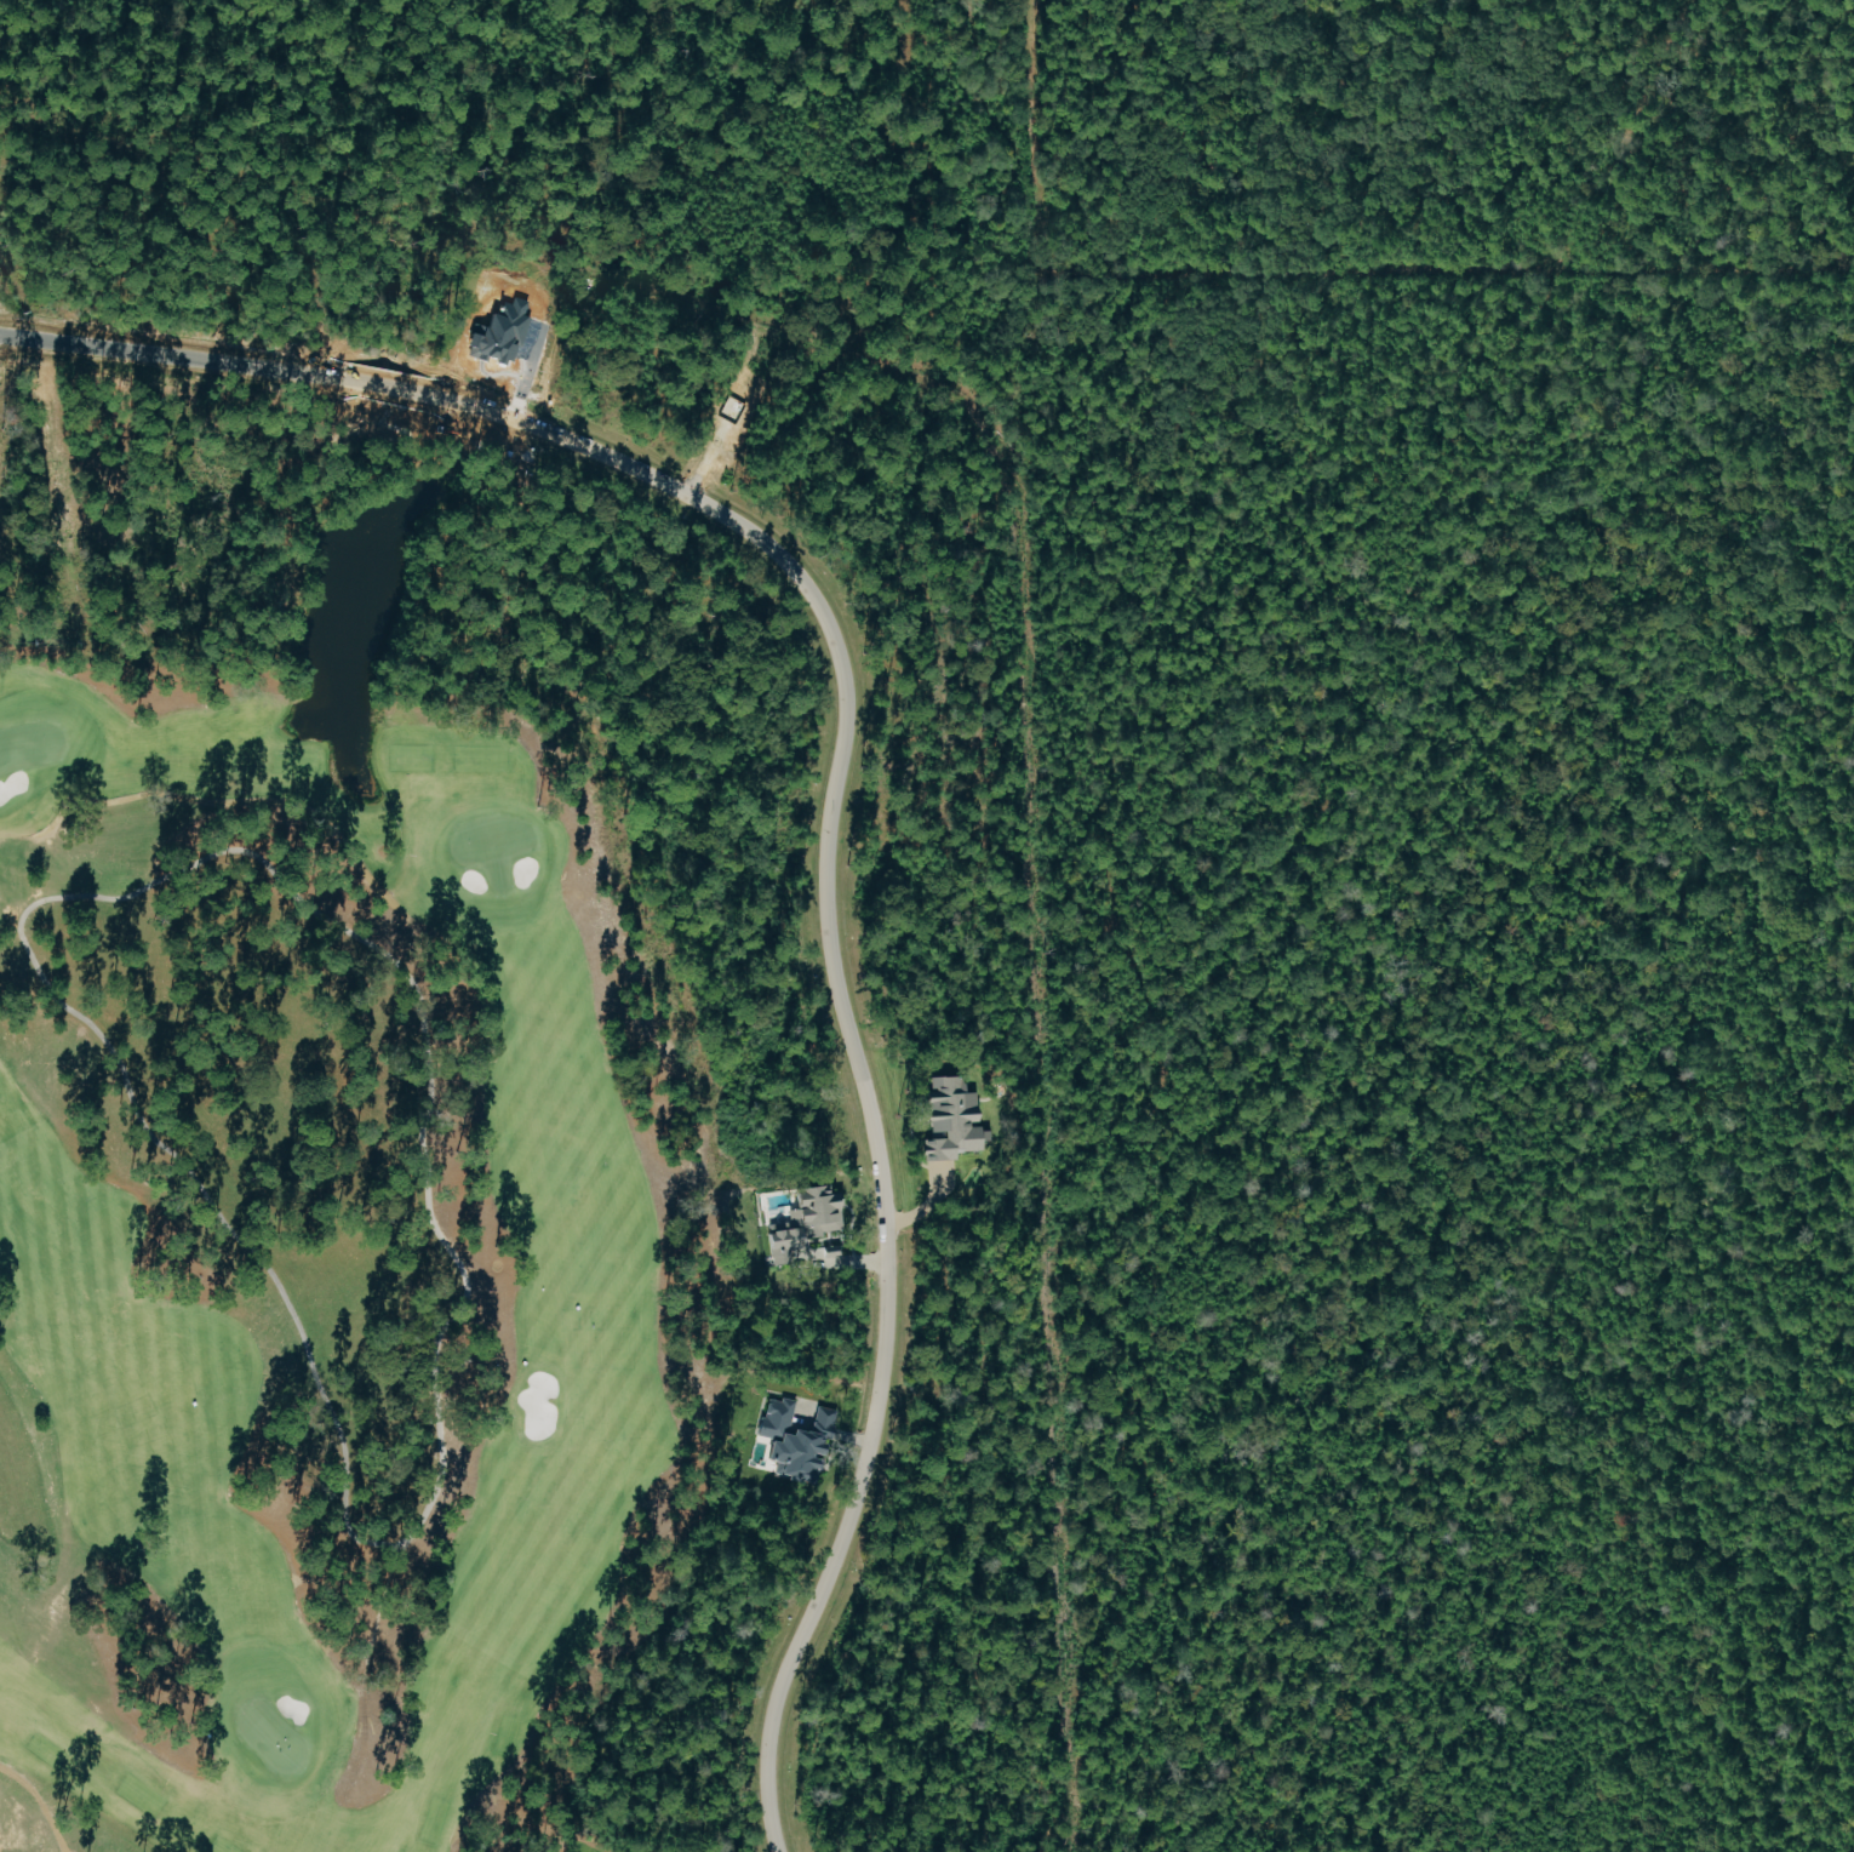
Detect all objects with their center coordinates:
road: (4, 359)
building: (734, 407)
park: (136, 653)
road: (841, 793)
building: (956, 1120)
building: (809, 1222)
park: (692, 1250)
park: (181, 1261)
park: (498, 1304)
building: (800, 1440)
park: (154, 1667)
park: (496, 1820)
park: (130, 1850)

